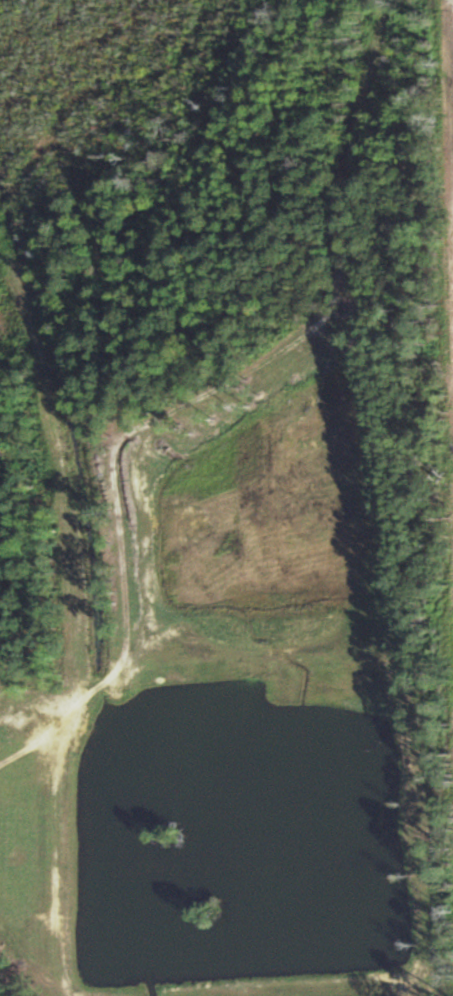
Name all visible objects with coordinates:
crop: (449, 164)
road: (124, 445)
road: (30, 752)

